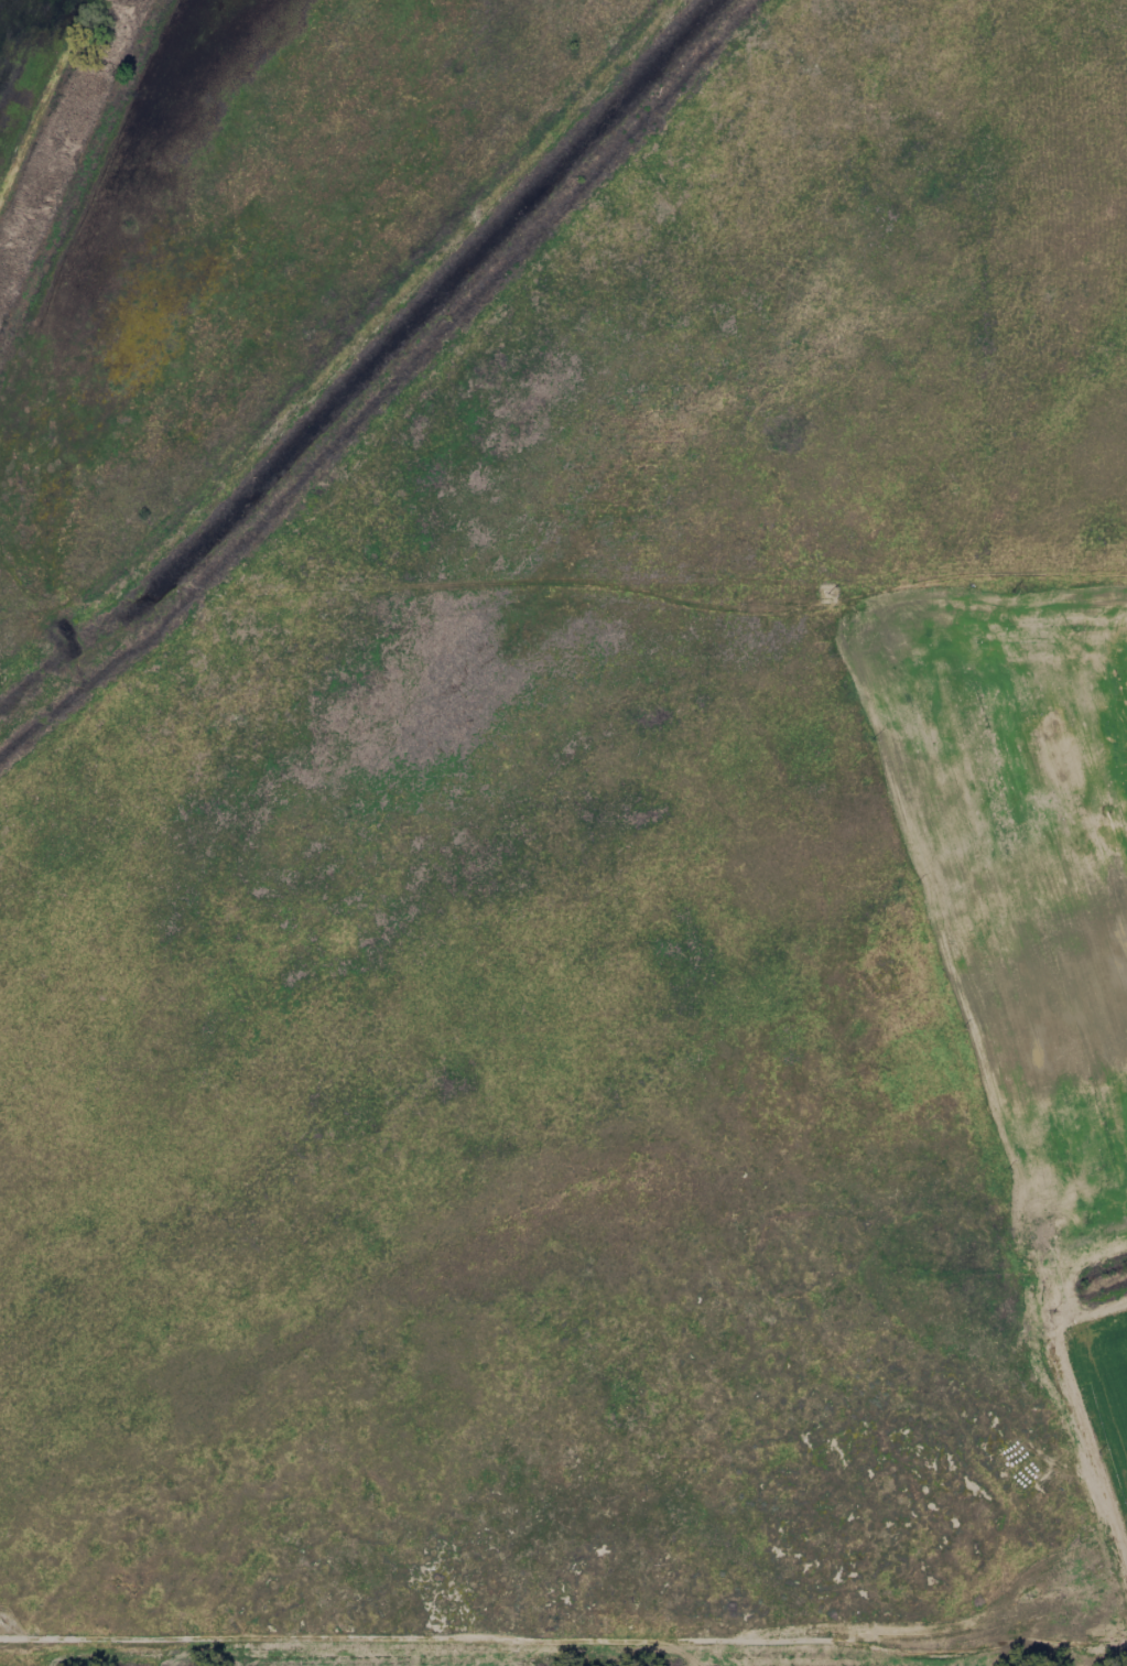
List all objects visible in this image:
river: (361, 378)
road: (681, 603)

